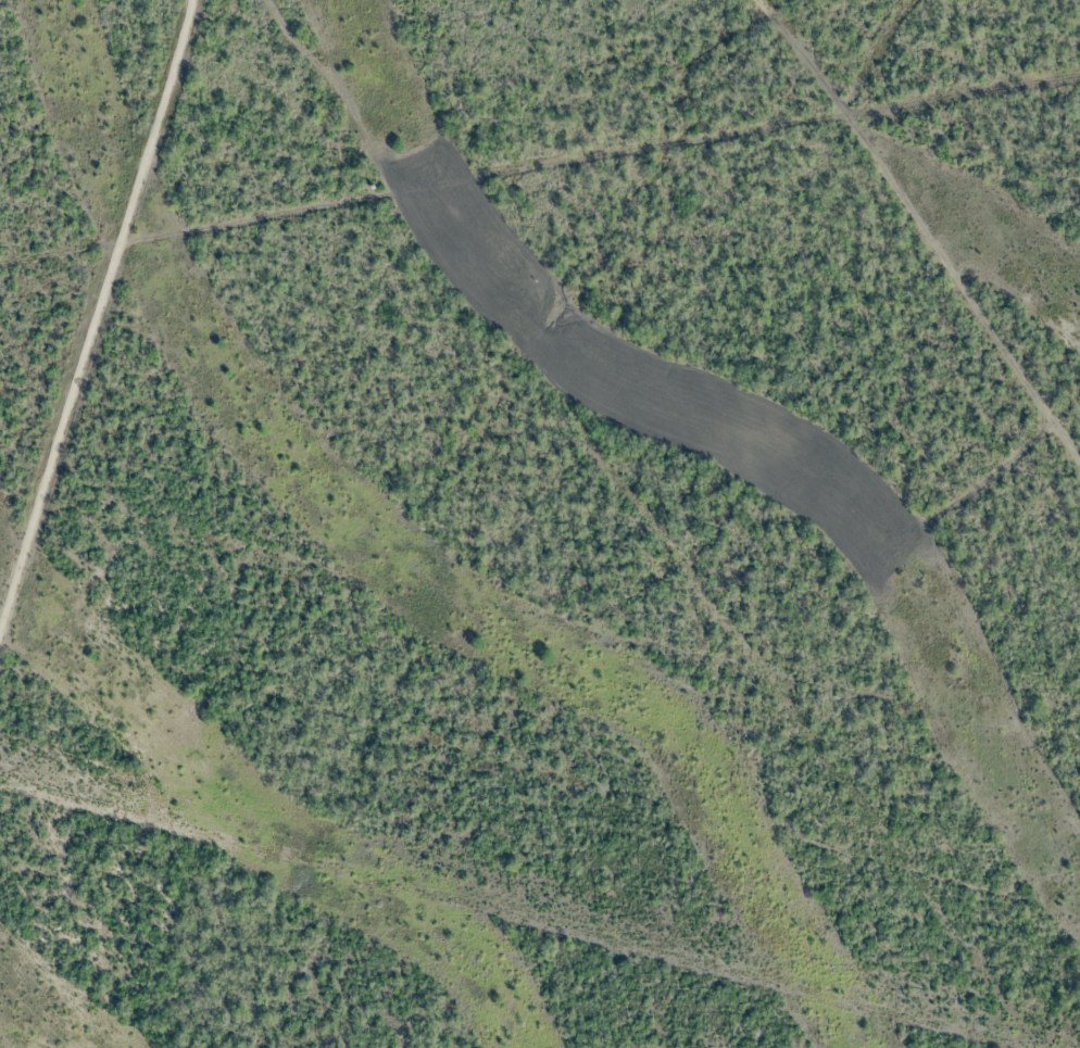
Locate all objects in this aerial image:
road: (918, 157)

